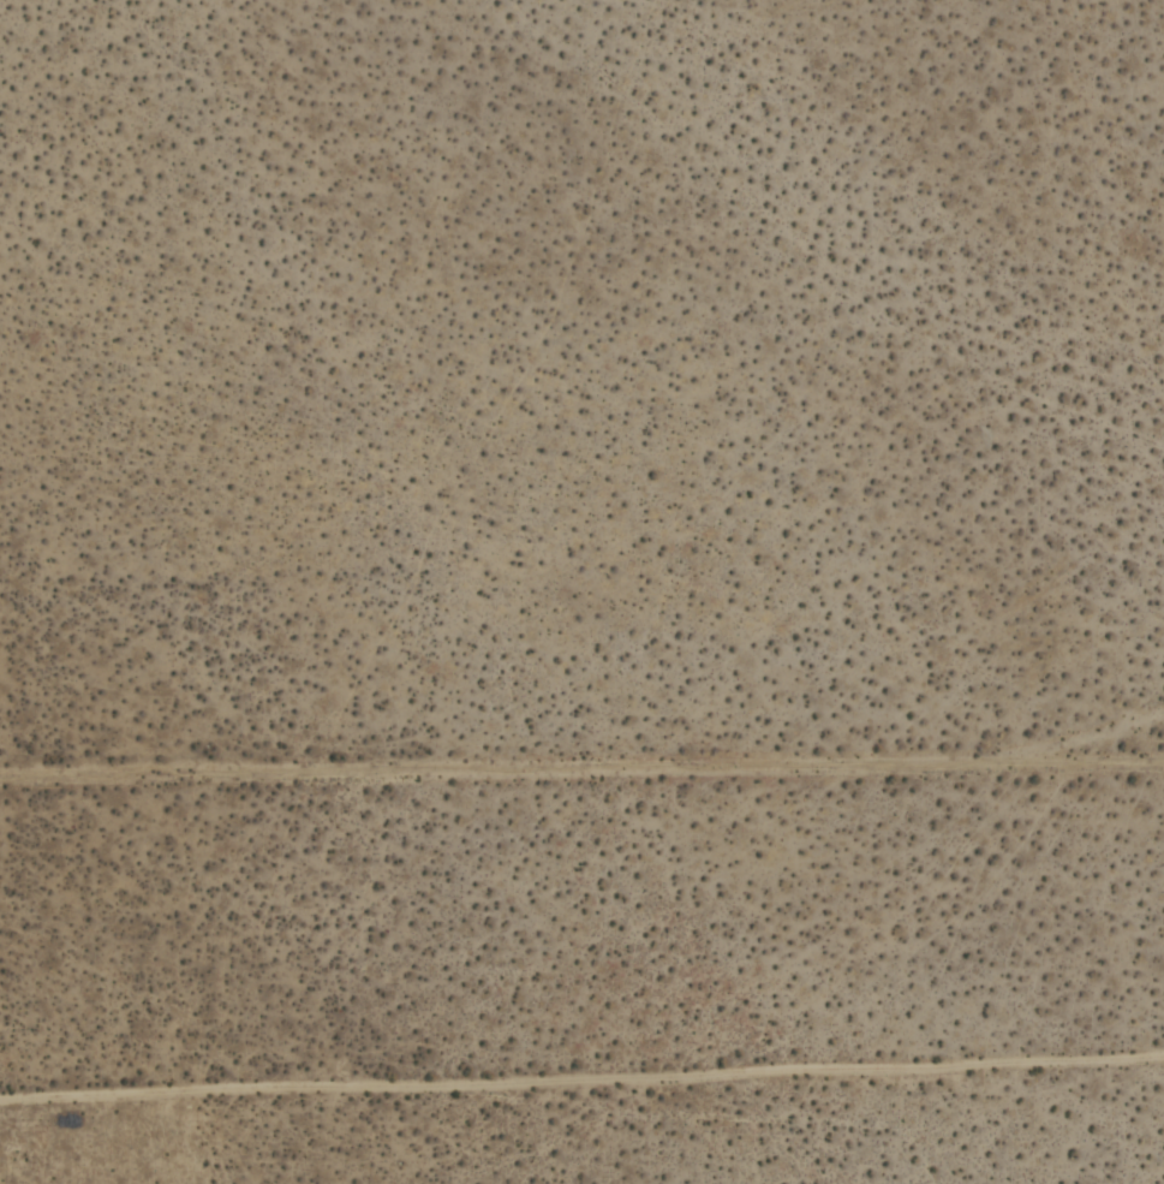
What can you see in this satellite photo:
road: (581, 1077)

